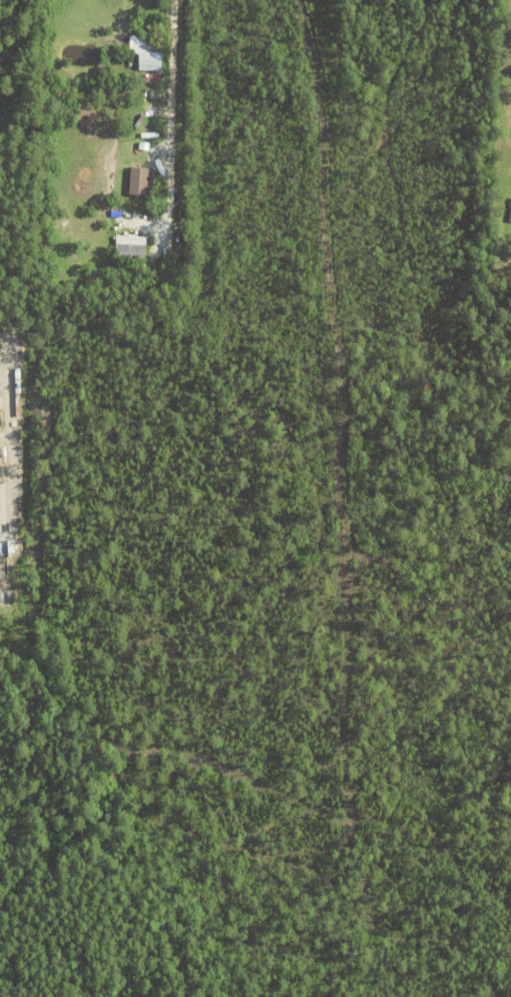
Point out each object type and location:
building: (150, 55)
building: (118, 88)
road: (167, 98)
building: (136, 178)
building: (510, 217)
building: (154, 249)
building: (130, 252)
building: (176, 271)

